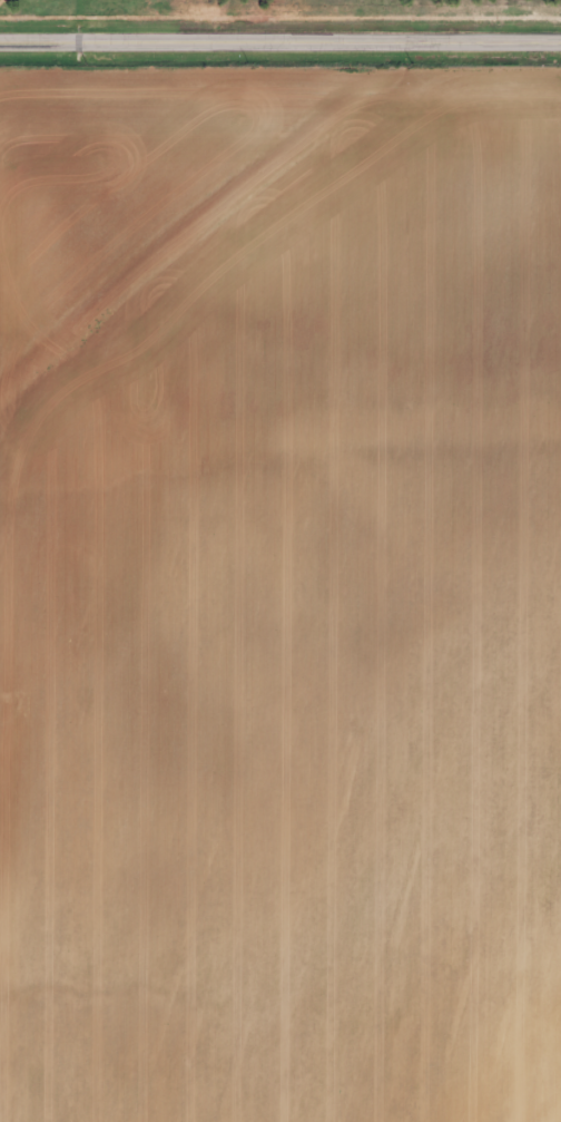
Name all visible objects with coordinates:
road: (280, 43)

